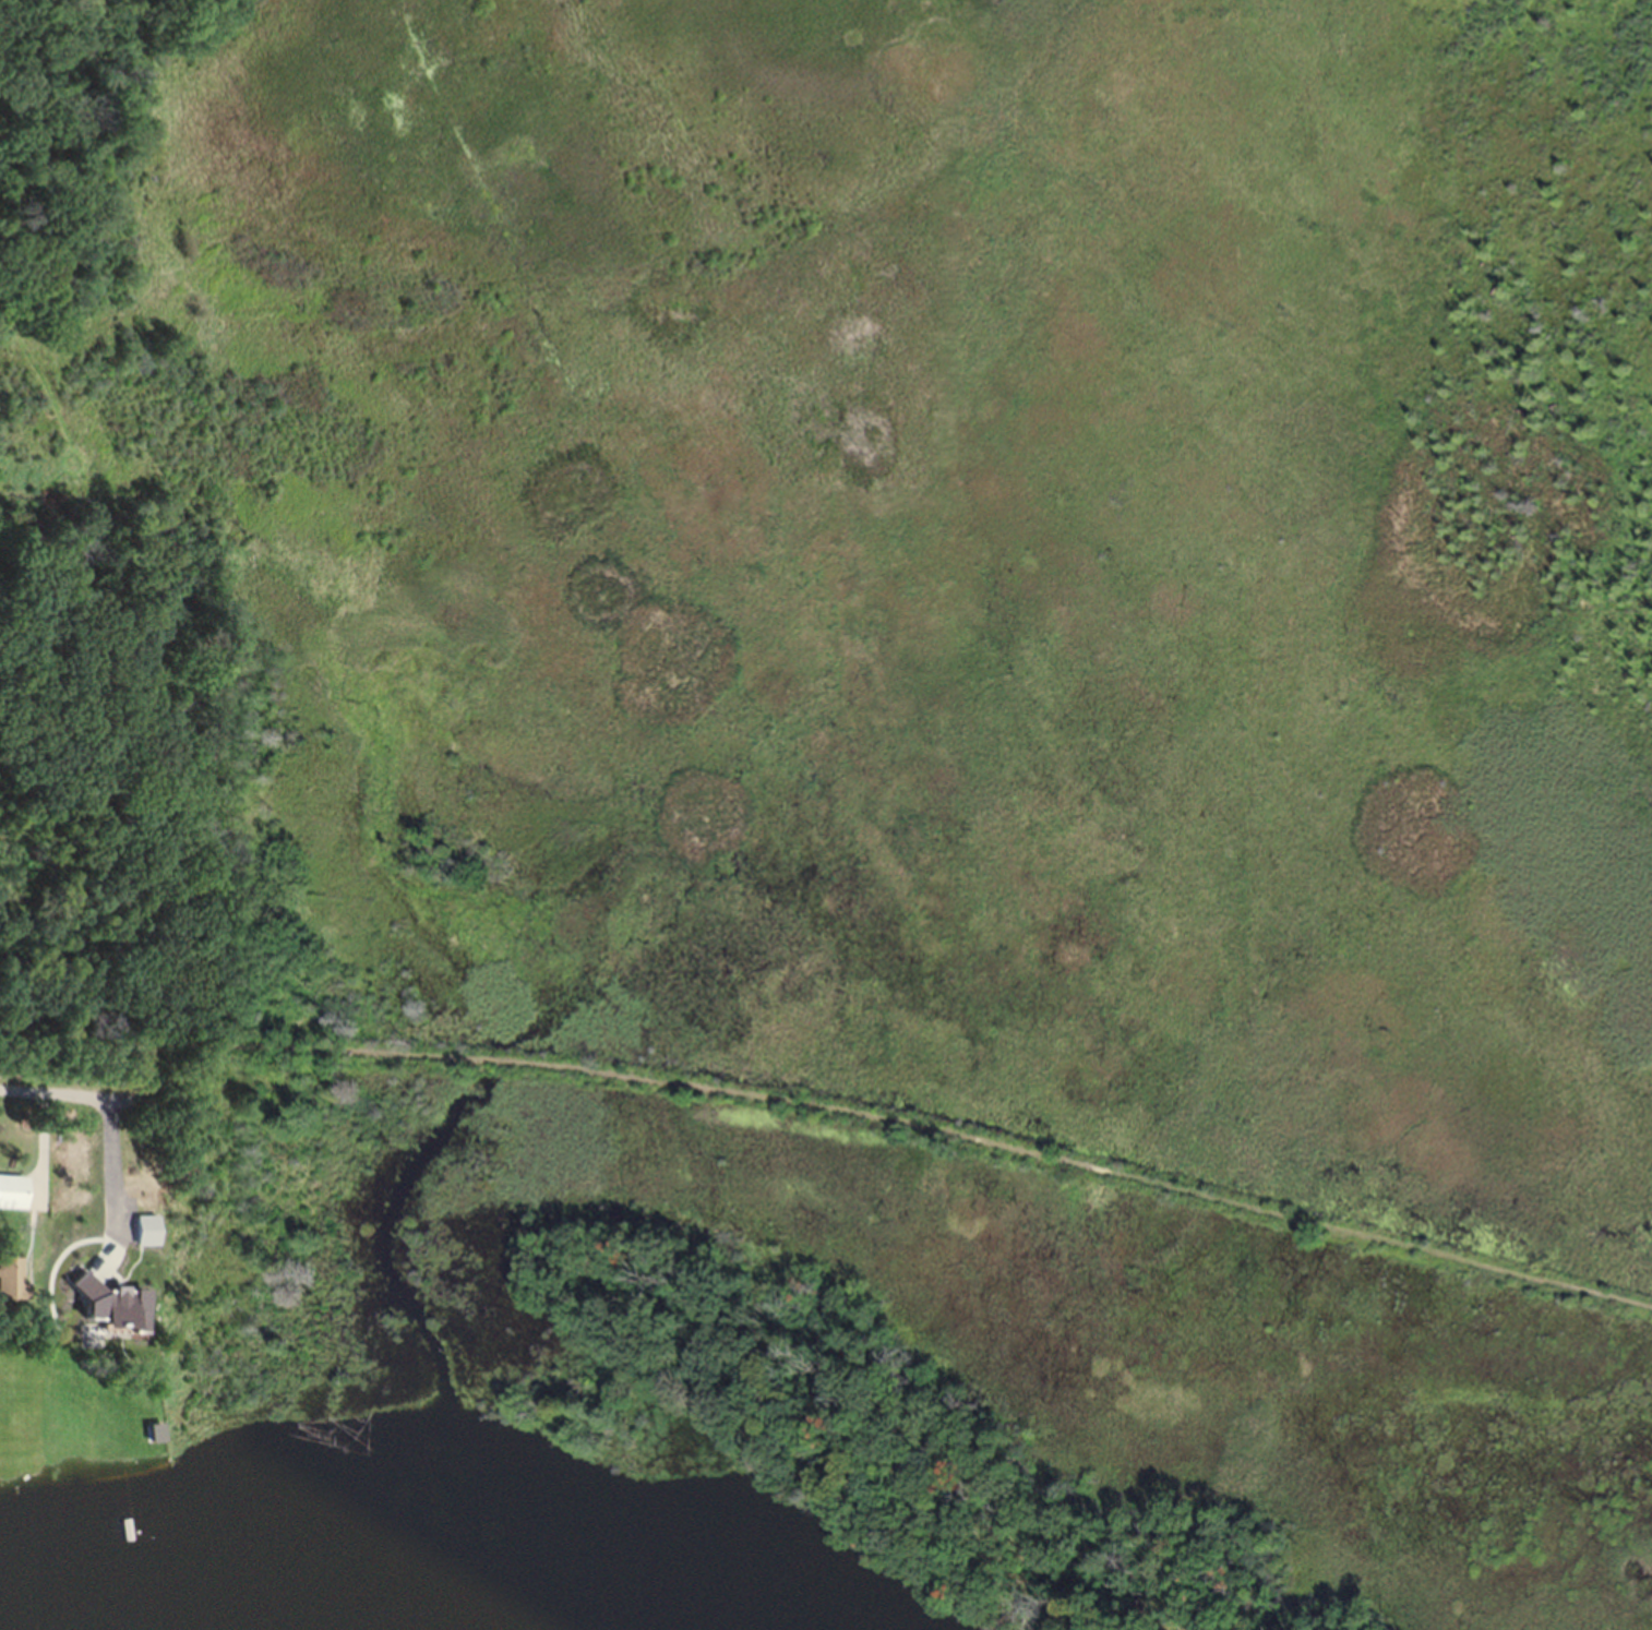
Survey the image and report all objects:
road: (65, 1095)
road: (46, 1154)
road: (107, 1179)
building: (11, 1200)
building: (143, 1235)
building: (9, 1286)
building: (130, 1315)

